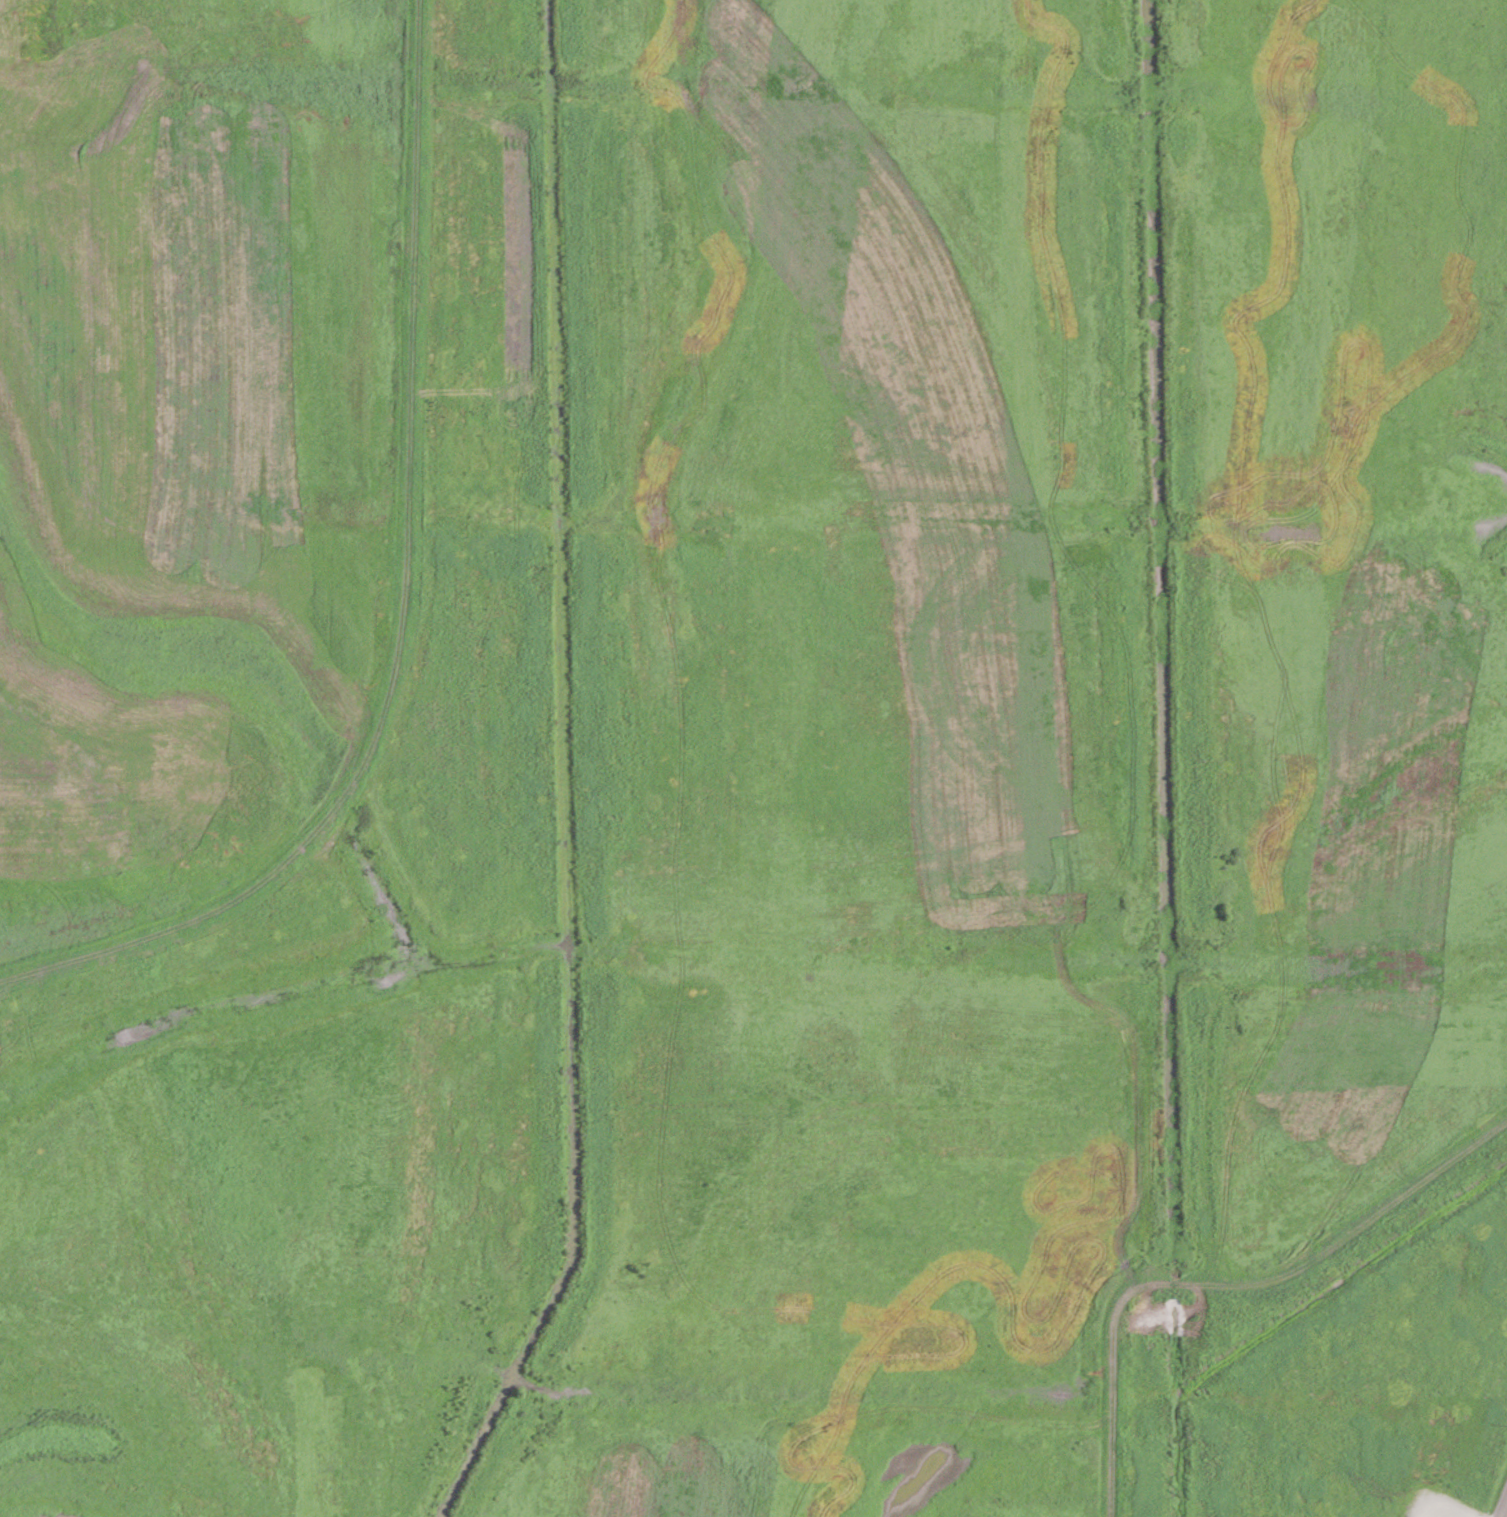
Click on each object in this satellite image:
road: (1500, 1501)

